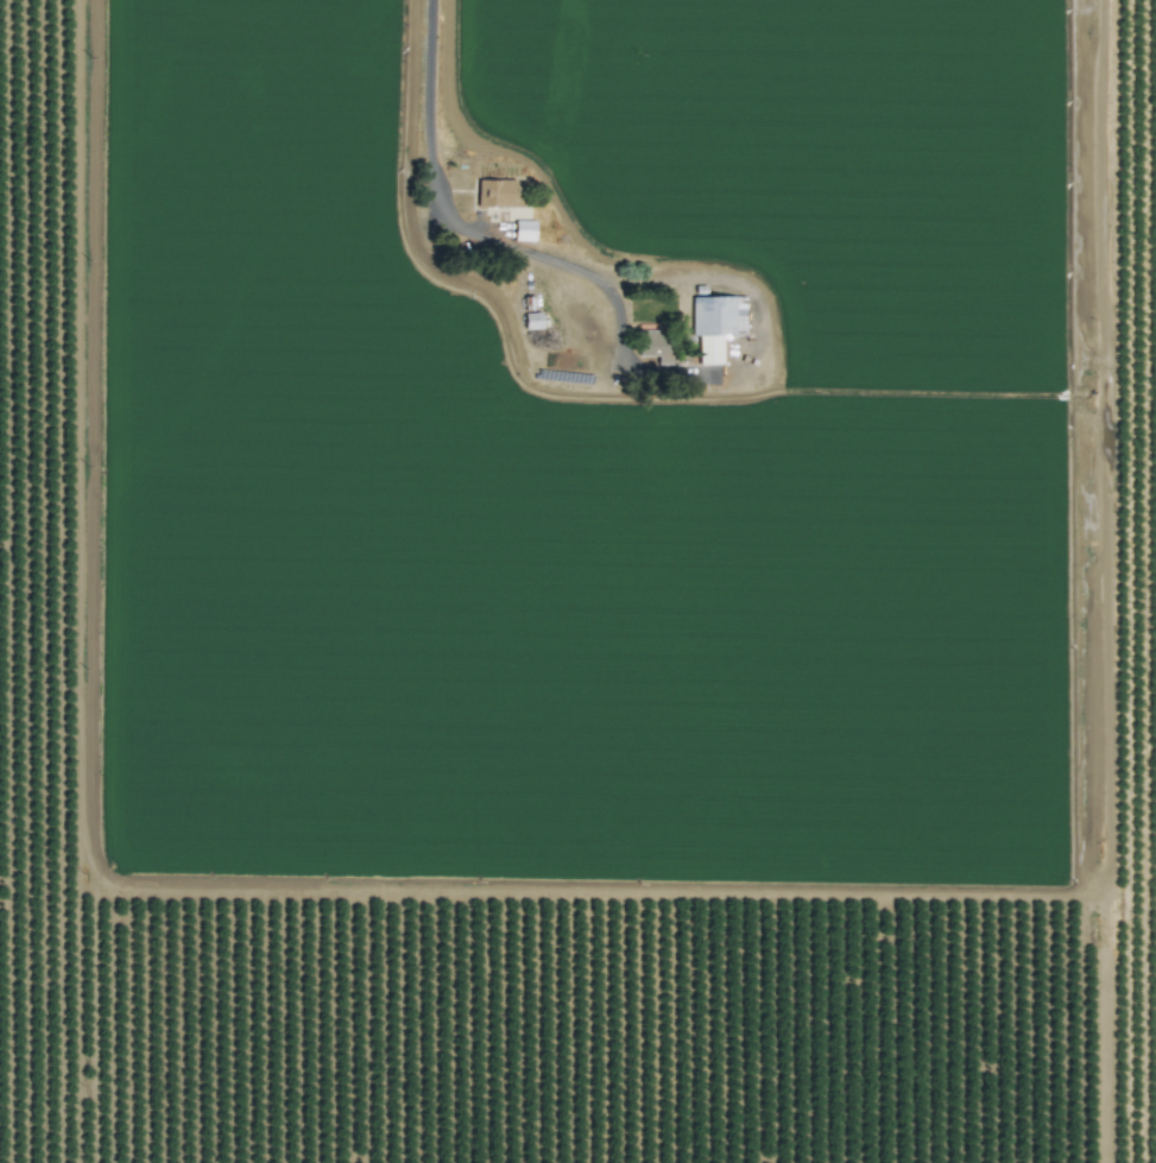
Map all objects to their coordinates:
road: (501, 245)
building: (648, 339)
road: (1106, 581)

